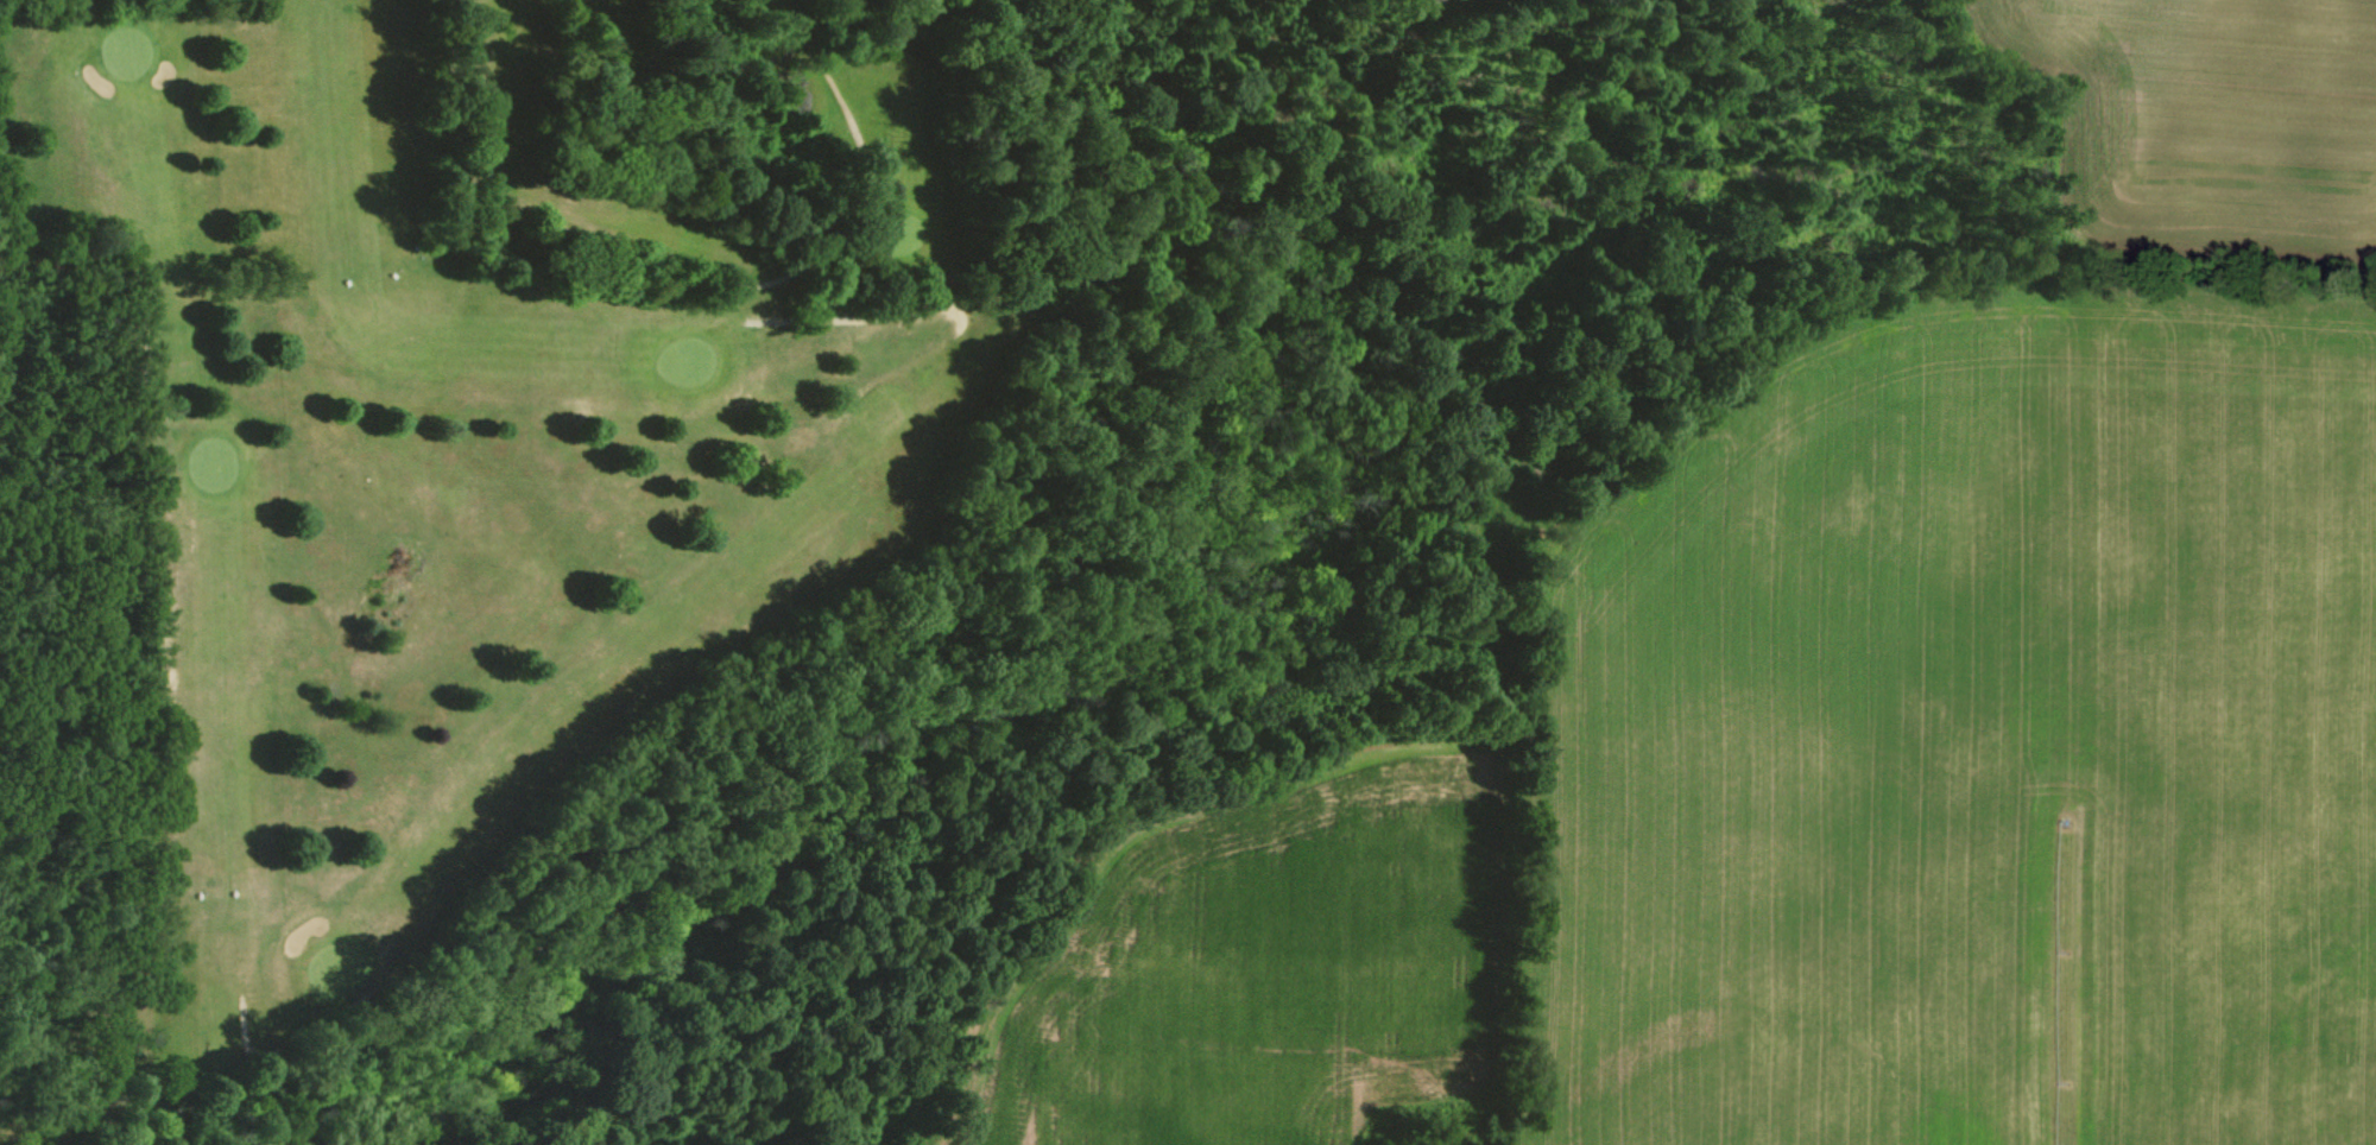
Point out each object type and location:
park: (508, 423)

